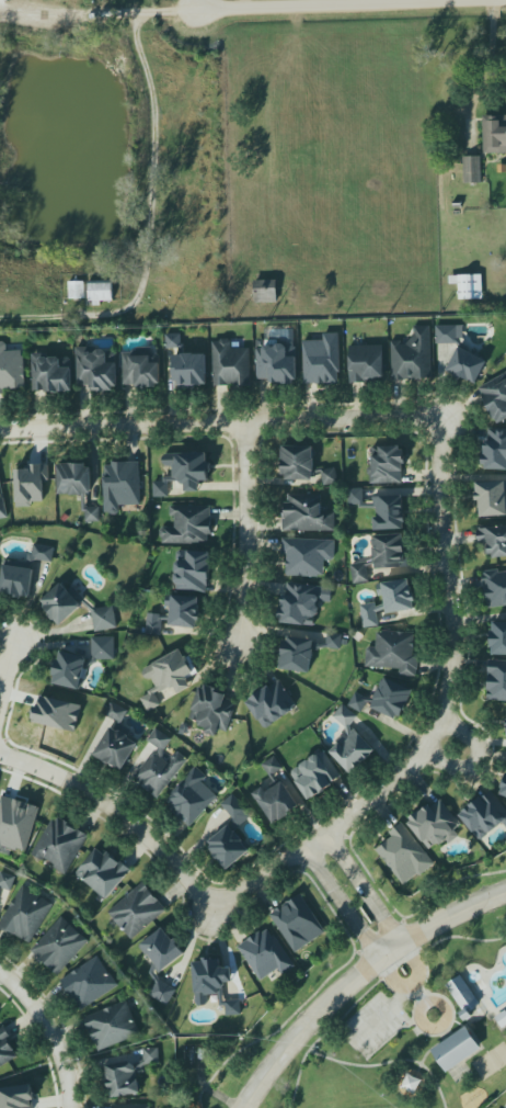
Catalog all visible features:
road: (312, 1)
road: (369, 1)
road: (245, 2)
road: (315, 2)
road: (189, 3)
road: (487, 71)
building: (494, 133)
building: (471, 169)
road: (152, 204)
building: (469, 286)
building: (77, 290)
building: (265, 291)
building: (100, 292)
building: (174, 341)
building: (459, 352)
building: (412, 355)
building: (321, 360)
building: (277, 362)
building: (365, 362)
building: (231, 364)
building: (11, 365)
building: (141, 368)
building: (97, 369)
building: (191, 369)
building: (51, 373)
building: (495, 397)
building: (495, 450)
building: (303, 464)
building: (386, 465)
building: (184, 472)
building: (31, 484)
building: (120, 485)
building: (78, 486)
building: (491, 498)
road: (442, 501)
building: (2, 505)
building: (381, 509)
building: (304, 513)
building: (188, 525)
road: (245, 539)
building: (493, 541)
building: (307, 555)
building: (383, 556)
building: (193, 570)
building: (23, 573)
building: (495, 588)
building: (388, 600)
building: (302, 603)
building: (76, 608)
building: (185, 609)
building: (154, 624)
building: (498, 638)
building: (304, 652)
building: (393, 652)
building: (81, 663)
road: (9, 674)
building: (166, 677)
building: (496, 680)
building: (392, 698)
building: (358, 702)
building: (215, 704)
building: (271, 704)
building: (57, 713)
building: (116, 740)
building: (350, 743)
road: (475, 758)
building: (159, 766)
building: (272, 766)
building: (315, 775)
building: (504, 790)
building: (191, 798)
building: (276, 801)
road: (118, 809)
building: (235, 810)
building: (484, 815)
building: (16, 821)
building: (435, 825)
building: (60, 845)
building: (228, 847)
building: (404, 853)
building: (103, 872)
building: (7, 880)
road: (366, 887)
road: (341, 904)
building: (138, 912)
building: (25, 915)
building: (298, 923)
road: (192, 938)
road: (442, 940)
building: (59, 946)
building: (266, 954)
building: (161, 962)
road: (355, 976)
building: (87, 983)
building: (212, 984)
road: (414, 984)
road: (21, 988)
road: (421, 993)
building: (463, 994)
road: (421, 1010)
road: (343, 1017)
road: (382, 1018)
parking lot: (373, 1024)
building: (112, 1026)
road: (423, 1032)
road: (388, 1038)
road: (434, 1045)
building: (5, 1049)
building: (456, 1049)
road: (61, 1056)
road: (390, 1062)
park: (491, 1062)
building: (127, 1074)
road: (214, 1092)
building: (16, 1097)
building: (130, 1106)
park: (401, 1107)
building: (505, 1107)

